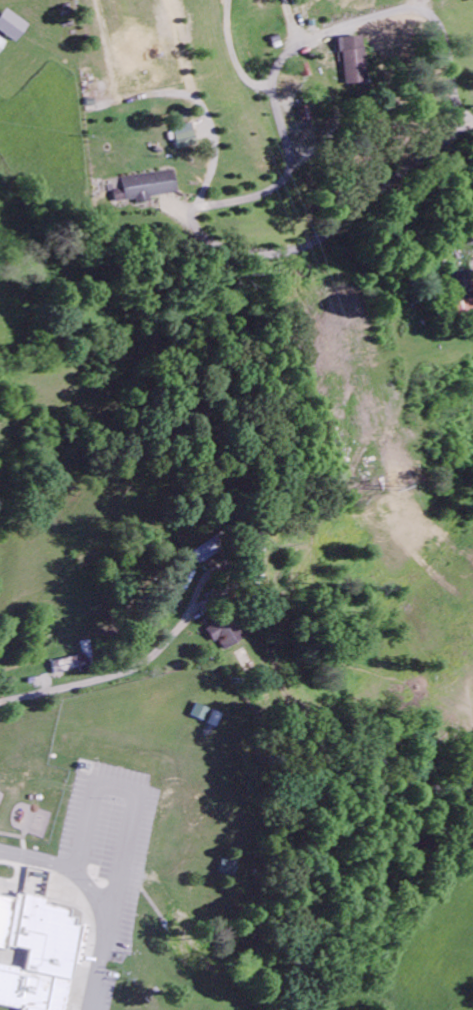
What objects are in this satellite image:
building: (12, 27)
building: (2, 45)
building: (353, 62)
building: (183, 137)
building: (149, 187)
building: (464, 287)
building: (209, 552)
building: (227, 635)
building: (68, 667)
road: (99, 679)
building: (228, 867)
road: (129, 868)
building: (37, 950)

